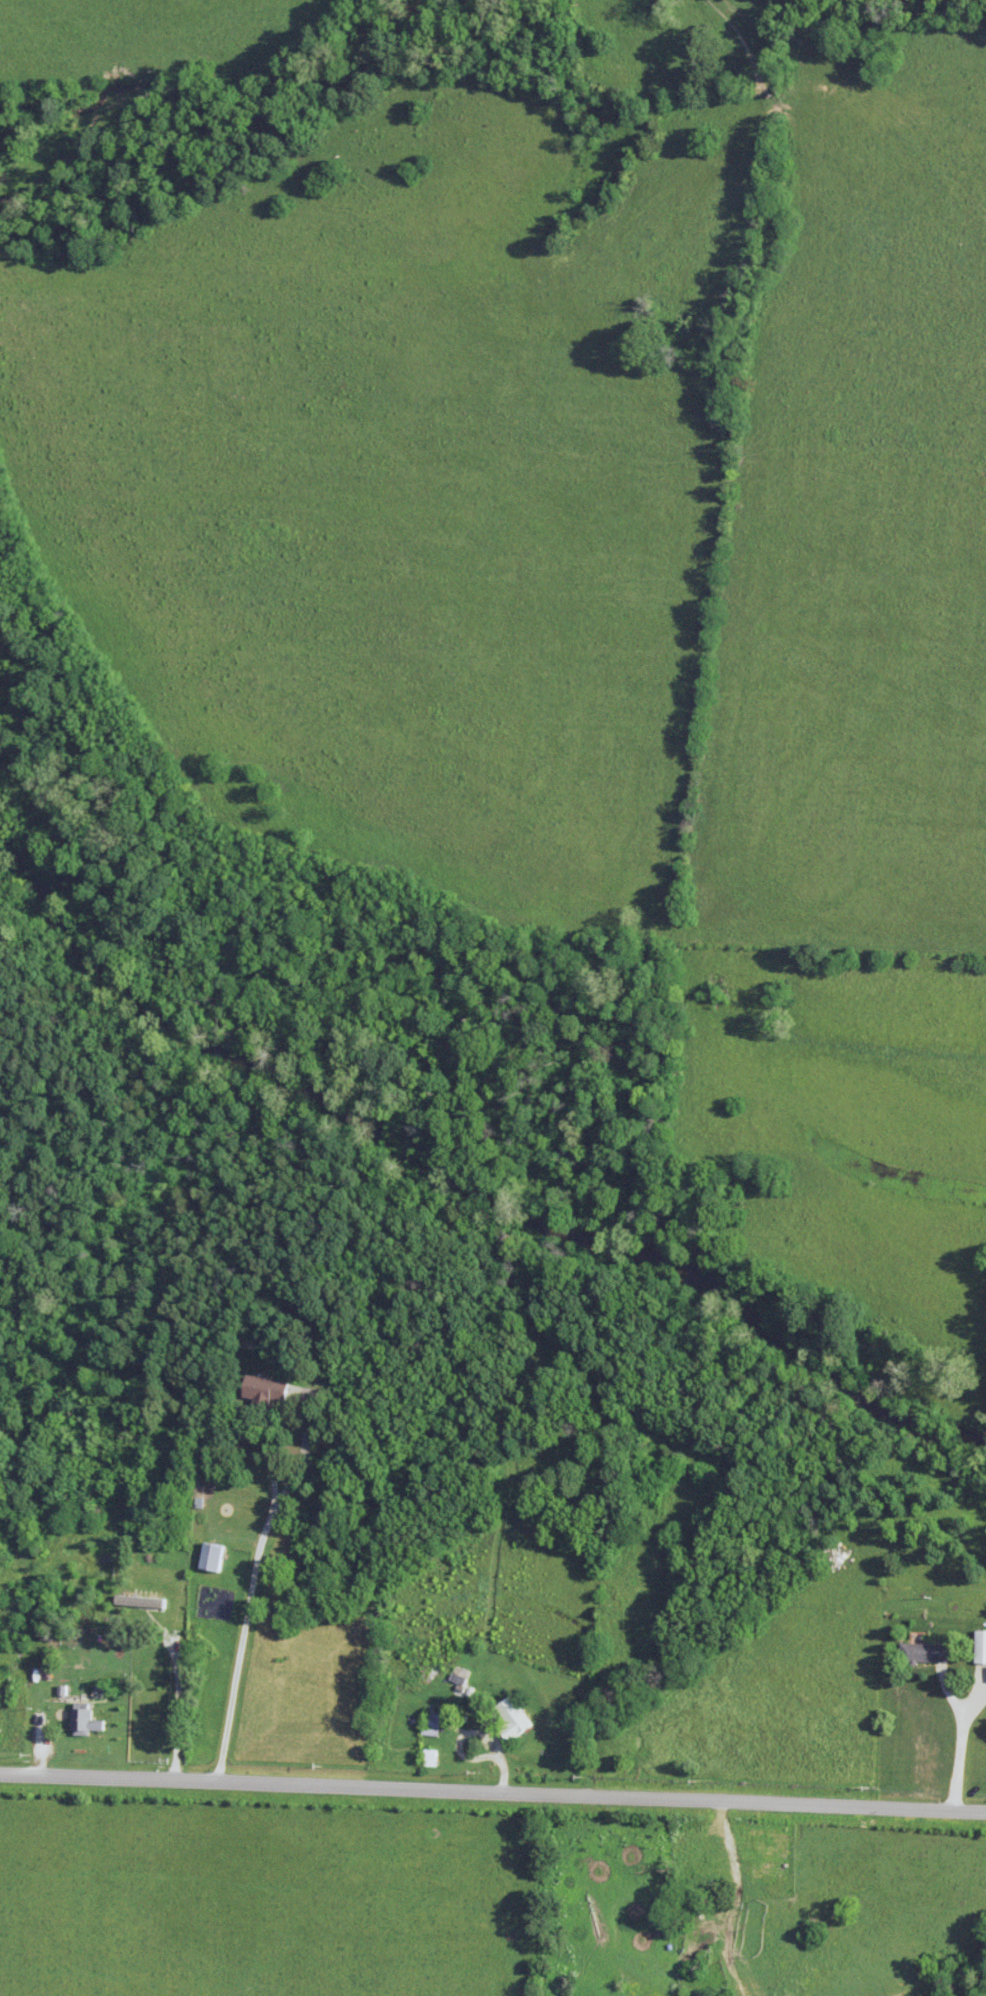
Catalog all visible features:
building: (267, 1390)
road: (270, 1444)
building: (214, 1557)
building: (441, 1565)
building: (149, 1599)
road: (245, 1642)
building: (982, 1648)
building: (927, 1653)
building: (455, 1678)
road: (178, 1687)
building: (513, 1719)
building: (83, 1720)
building: (433, 1725)
road: (961, 1735)
building: (432, 1758)
road: (493, 1794)

